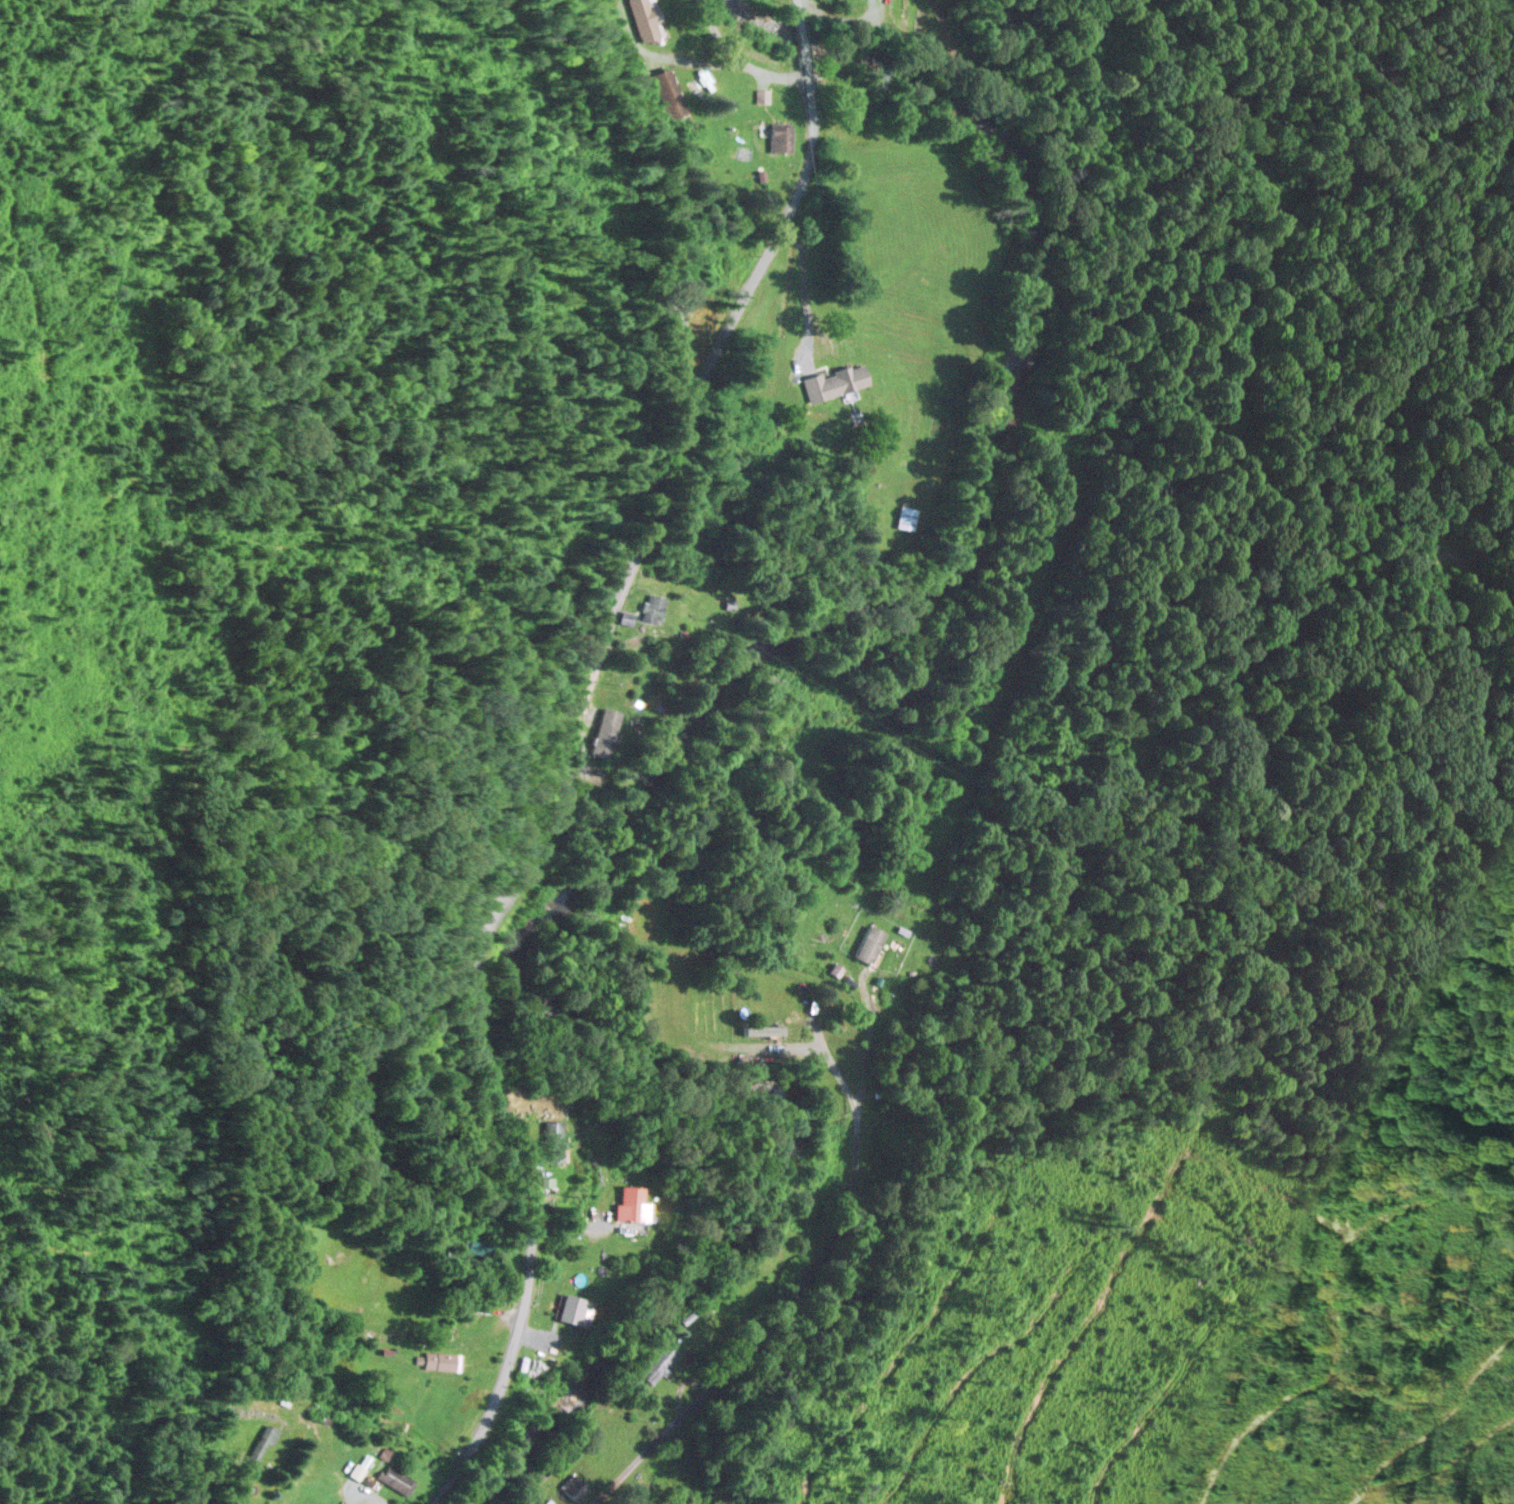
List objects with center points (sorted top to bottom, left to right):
building: (781, 136)
road: (1046, 165)
building: (678, 313)
building: (848, 335)
building: (845, 385)
building: (651, 607)
road: (558, 752)
building: (871, 952)
building: (758, 1028)
building: (553, 1142)
building: (631, 1202)
road: (817, 1245)
building: (483, 1305)
building: (571, 1307)
building: (439, 1359)
building: (659, 1359)
building: (394, 1478)
building: (573, 1485)

